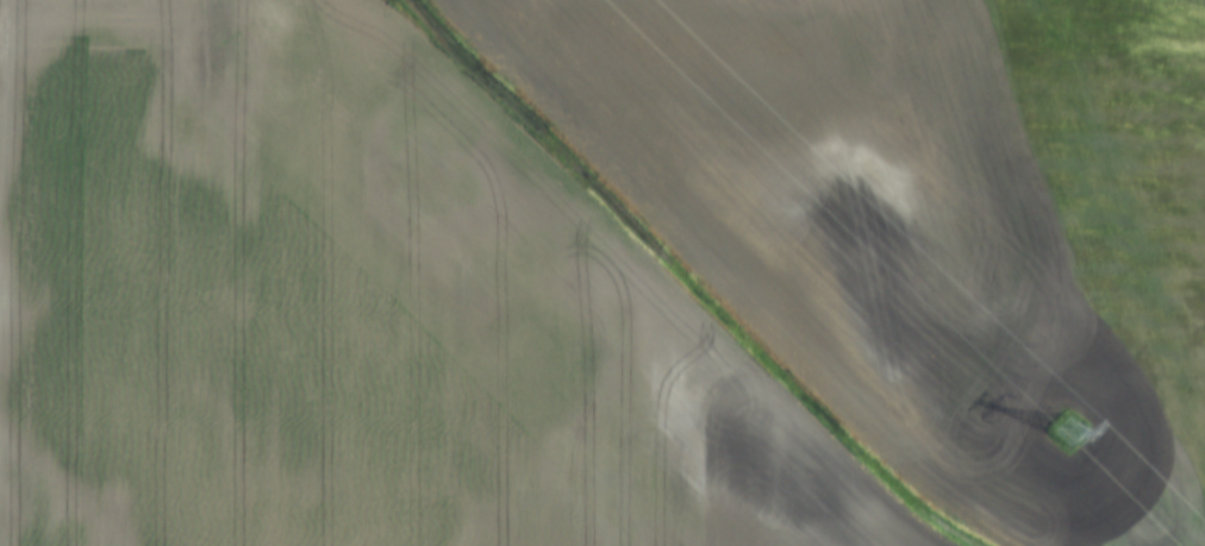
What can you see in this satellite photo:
power tower: (1061, 428)

